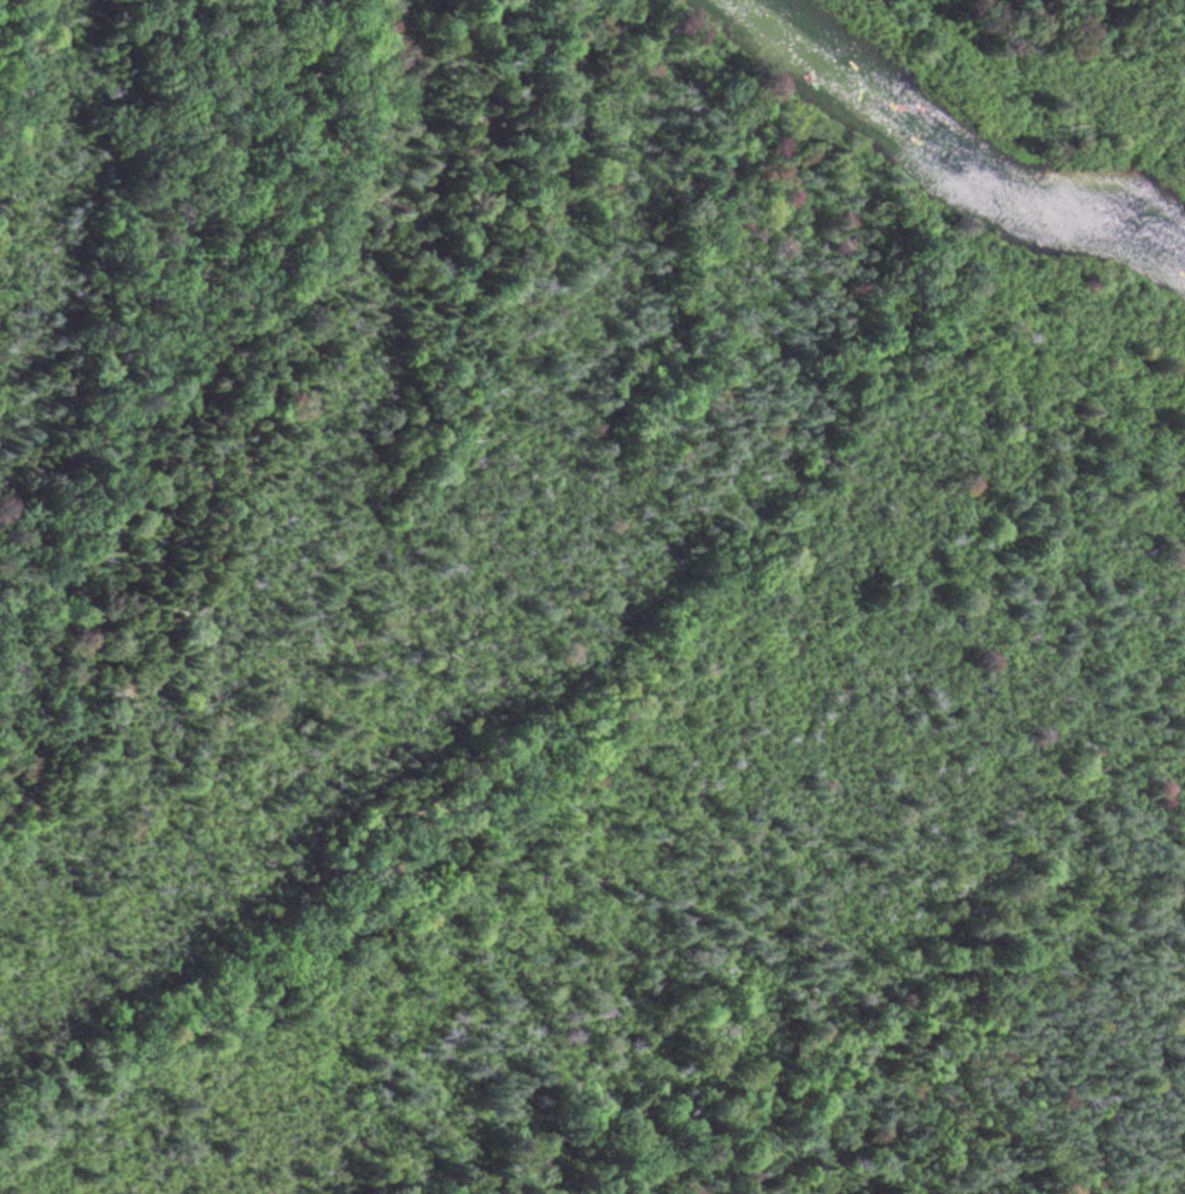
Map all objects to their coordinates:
river: (948, 153)

